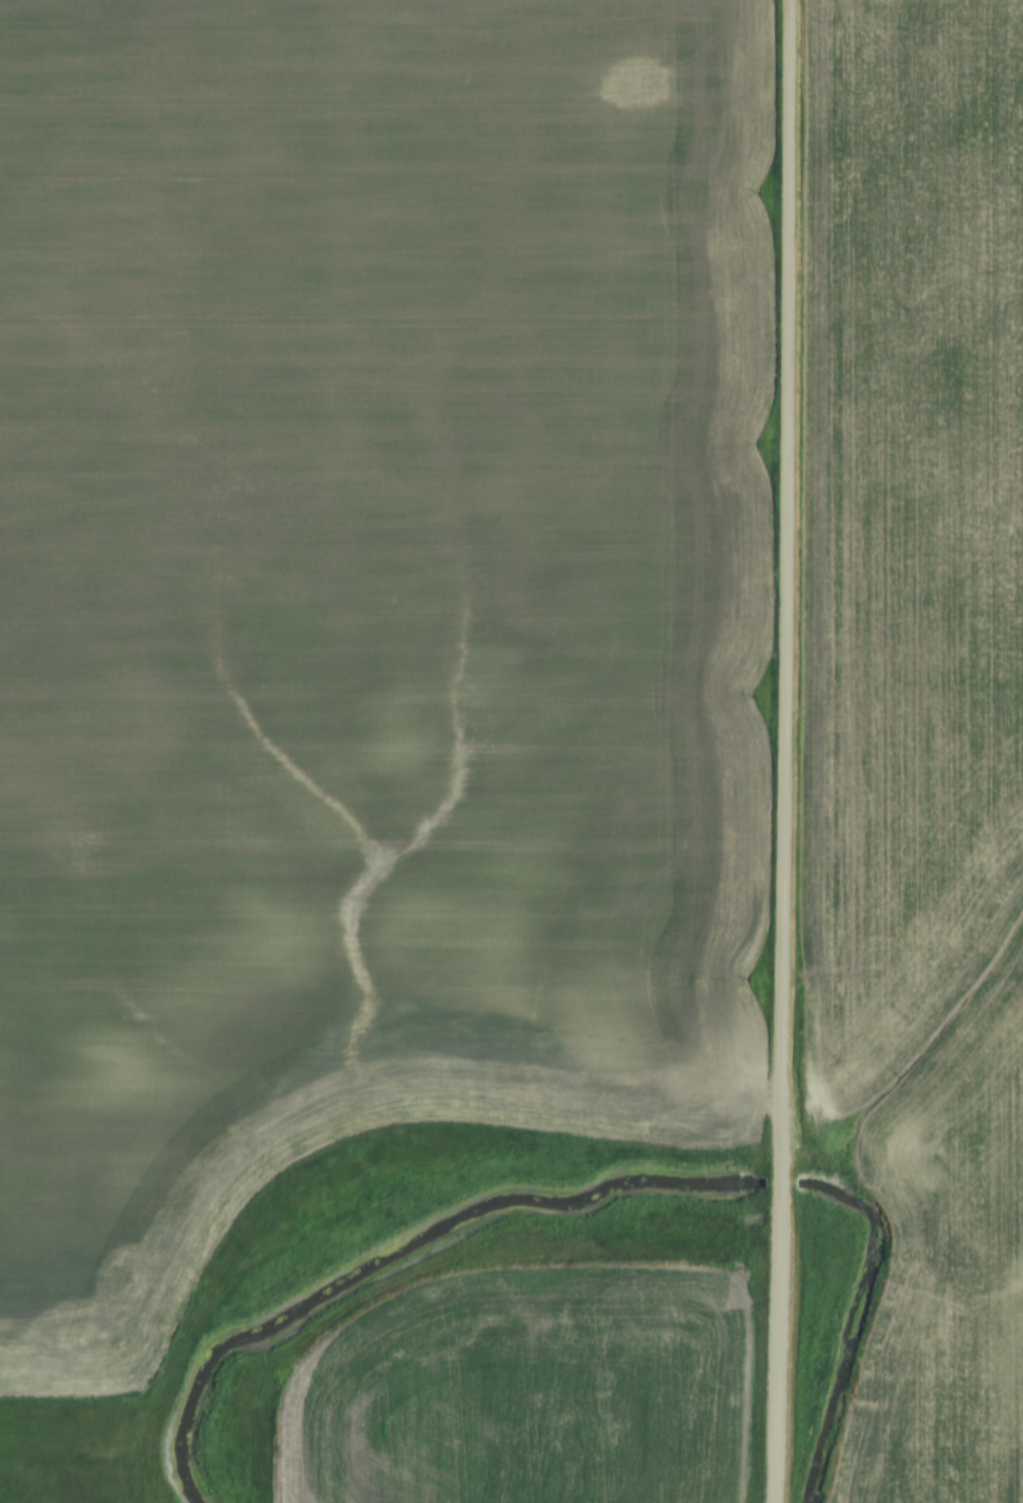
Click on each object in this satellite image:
road: (790, 593)
road: (781, 1192)
road: (778, 1350)

